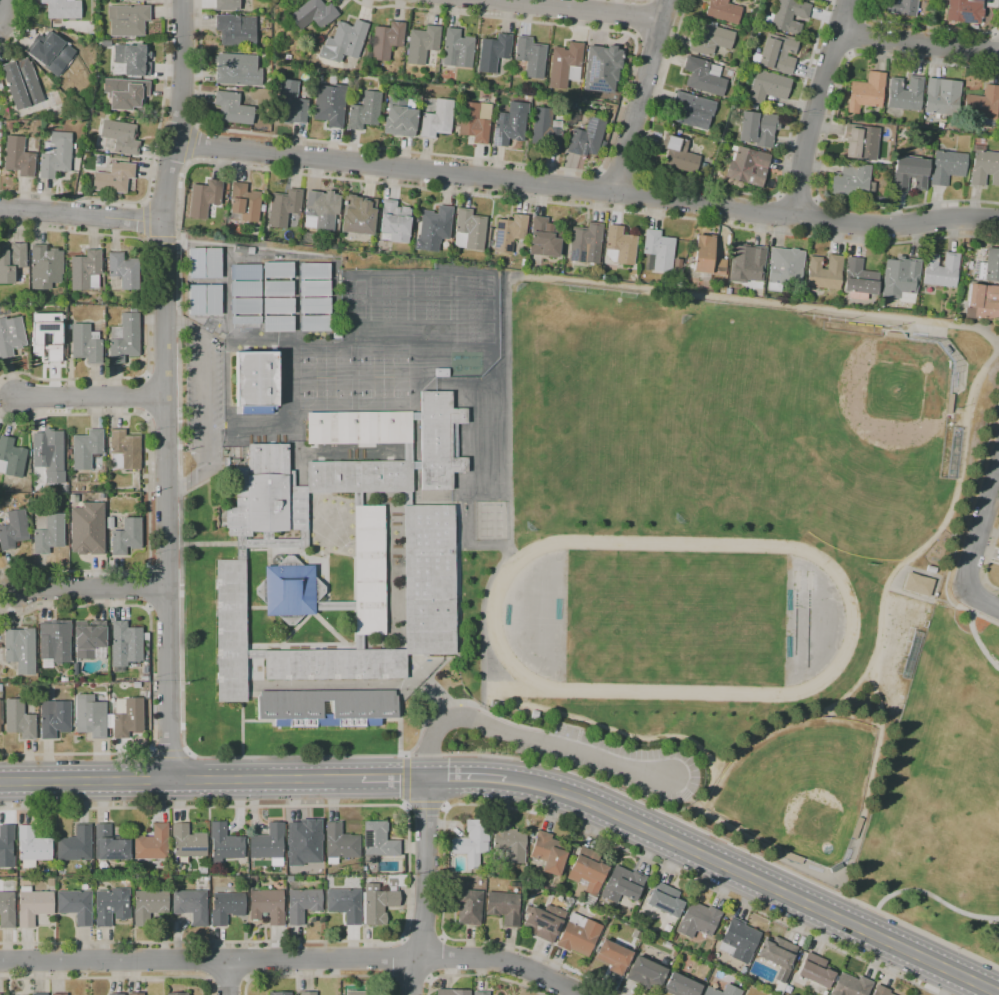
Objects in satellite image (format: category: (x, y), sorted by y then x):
building: (117, 0)
building: (137, 0)
building: (811, 0)
road: (998, 3)
building: (227, 5)
road: (668, 6)
building: (902, 8)
building: (62, 9)
road: (576, 9)
building: (723, 11)
building: (964, 11)
building: (313, 14)
road: (2, 15)
building: (786, 16)
road: (863, 17)
road: (641, 19)
building: (127, 20)
road: (929, 27)
road: (18, 29)
building: (236, 30)
building: (62, 35)
road: (855, 35)
building: (710, 39)
building: (386, 40)
building: (344, 41)
road: (653, 41)
building: (422, 44)
road: (918, 44)
building: (458, 49)
building: (50, 51)
building: (493, 53)
building: (776, 54)
road: (850, 54)
building: (530, 56)
building: (287, 57)
building: (133, 59)
building: (565, 65)
building: (602, 68)
building: (237, 70)
building: (277, 72)
building: (703, 76)
building: (345, 78)
building: (332, 79)
building: (318, 80)
building: (21, 83)
building: (766, 86)
building: (866, 92)
building: (905, 93)
building: (125, 94)
road: (639, 96)
building: (528, 97)
building: (942, 97)
building: (291, 104)
building: (330, 105)
building: (982, 105)
road: (815, 107)
building: (232, 109)
building: (692, 110)
building: (365, 111)
building: (572, 118)
building: (437, 119)
building: (998, 119)
building: (400, 121)
building: (475, 121)
building: (510, 124)
building: (9, 126)
building: (758, 128)
building: (546, 130)
building: (989, 132)
building: (120, 137)
building: (586, 138)
building: (860, 141)
road: (823, 142)
building: (602, 145)
building: (55, 155)
building: (679, 155)
building: (18, 157)
building: (748, 166)
building: (984, 166)
road: (545, 167)
building: (947, 167)
road: (619, 171)
road: (151, 172)
building: (909, 173)
building: (114, 178)
building: (852, 181)
road: (720, 187)
road: (586, 189)
road: (797, 195)
building: (204, 199)
building: (881, 199)
building: (244, 202)
building: (284, 207)
building: (321, 210)
road: (81, 213)
building: (358, 215)
road: (141, 221)
building: (394, 222)
building: (219, 228)
building: (434, 228)
building: (469, 230)
building: (509, 233)
road: (160, 237)
building: (307, 237)
building: (544, 238)
building: (585, 244)
building: (620, 246)
building: (658, 252)
building: (707, 259)
building: (11, 261)
building: (523, 262)
building: (195, 263)
building: (212, 263)
building: (747, 263)
building: (678, 266)
building: (989, 266)
building: (45, 267)
building: (785, 269)
building: (124, 270)
building: (278, 270)
building: (941, 270)
building: (86, 271)
building: (315, 271)
building: (824, 272)
building: (900, 279)
building: (859, 280)
building: (277, 288)
building: (314, 288)
building: (246, 289)
building: (212, 299)
building: (195, 300)
building: (982, 302)
building: (314, 305)
building: (246, 306)
building: (278, 306)
road: (147, 309)
building: (246, 320)
building: (315, 323)
building: (279, 324)
building: (68, 327)
building: (895, 335)
building: (11, 336)
building: (124, 337)
building: (46, 338)
building: (86, 344)
park: (382, 358)
park: (325, 359)
building: (257, 381)
road: (165, 389)
park: (325, 392)
park: (383, 392)
parking lot: (204, 395)
road: (93, 396)
park: (882, 401)
road: (206, 403)
building: (949, 404)
road: (162, 414)
park: (594, 414)
building: (416, 416)
park: (742, 423)
building: (359, 428)
building: (440, 440)
building: (86, 449)
building: (124, 450)
building: (408, 452)
building: (954, 453)
building: (49, 454)
building: (11, 458)
building: (416, 465)
building: (359, 477)
road: (180, 478)
road: (149, 493)
building: (267, 494)
building: (357, 499)
building: (407, 499)
building: (109, 524)
road: (961, 528)
building: (87, 529)
building: (13, 530)
building: (48, 532)
building: (126, 537)
building: (270, 543)
road: (975, 544)
road: (989, 563)
road: (163, 569)
building: (931, 569)
building: (369, 570)
building: (428, 580)
building: (998, 581)
building: (918, 584)
building: (289, 589)
road: (95, 590)
park: (795, 603)
road: (164, 605)
building: (335, 606)
park: (808, 609)
track: (491, 618)
park: (675, 618)
building: (231, 631)
building: (90, 639)
building: (55, 641)
building: (359, 642)
road: (978, 643)
building: (125, 645)
building: (21, 649)
building: (255, 654)
building: (912, 655)
building: (335, 665)
building: (75, 669)
road: (150, 678)
building: (63, 679)
road: (873, 680)
building: (136, 684)
building: (0, 687)
building: (146, 695)
building: (365, 708)
building: (1, 712)
building: (91, 716)
building: (126, 717)
building: (54, 718)
building: (18, 719)
road: (794, 719)
road: (529, 736)
parking lot: (617, 762)
road: (394, 778)
road: (467, 778)
road: (180, 779)
road: (405, 782)
park: (797, 786)
park: (940, 793)
road: (425, 807)
road: (548, 818)
building: (855, 827)
building: (188, 841)
building: (304, 842)
building: (378, 842)
building: (153, 843)
building: (224, 843)
building: (472, 843)
building: (110, 844)
building: (268, 844)
building: (340, 844)
building: (75, 845)
building: (508, 845)
building: (6, 846)
building: (33, 847)
building: (548, 853)
building: (790, 857)
building: (836, 867)
building: (202, 870)
building: (588, 870)
road: (407, 871)
building: (252, 878)
road: (754, 879)
building: (124, 880)
building: (50, 882)
building: (514, 885)
building: (622, 885)
road: (426, 887)
road: (933, 898)
building: (380, 900)
building: (569, 900)
building: (664, 900)
building: (303, 904)
building: (345, 904)
building: (267, 905)
building: (33, 906)
building: (76, 906)
building: (112, 906)
building: (149, 906)
building: (191, 906)
building: (468, 906)
building: (226, 907)
building: (503, 908)
building: (7, 910)
building: (697, 920)
building: (545, 922)
building: (578, 935)
building: (672, 936)
road: (423, 937)
building: (738, 940)
road: (443, 956)
building: (613, 957)
road: (397, 958)
building: (778, 958)
road: (294, 959)
road: (207, 960)
road: (248, 960)
building: (742, 969)
building: (815, 971)
building: (645, 973)
road: (227, 977)
road: (320, 977)
road: (481, 977)
road: (111, 978)
road: (412, 979)
road: (227, 980)
building: (850, 985)
building: (680, 986)
building: (723, 991)
building: (881, 991)
building: (452, 992)
building: (179, 993)
building: (278, 993)
building: (308, 993)
building: (357, 993)
building: (481, 993)
building: (0, 994)
building: (39, 994)
building: (60, 994)
building: (116, 994)
building: (135, 994)

